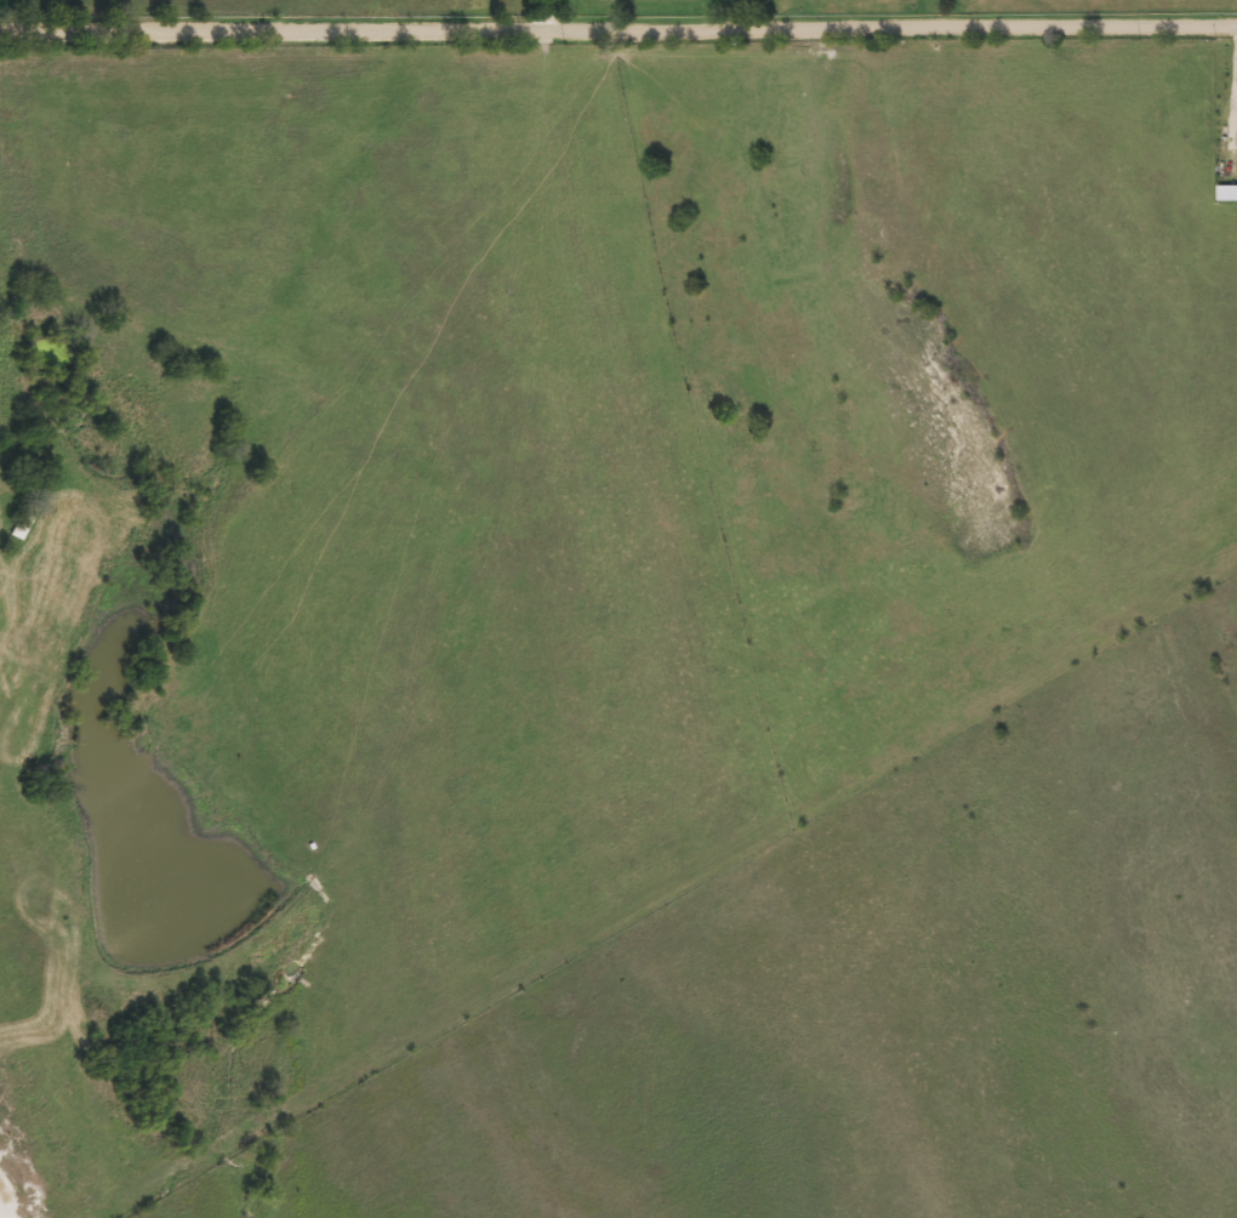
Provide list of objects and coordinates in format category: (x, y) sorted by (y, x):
road: (543, 17)
road: (618, 33)
building: (23, 518)

